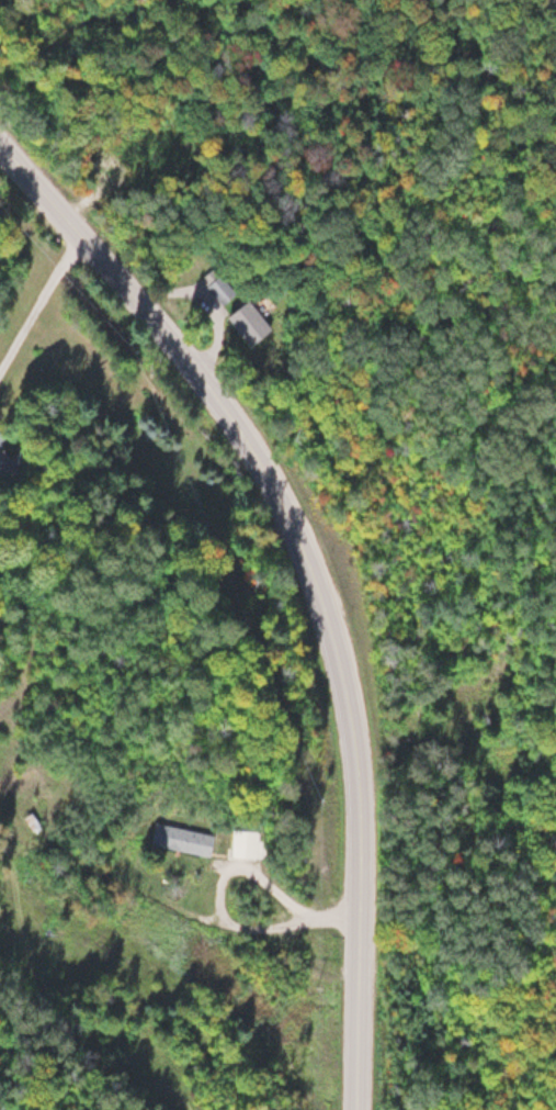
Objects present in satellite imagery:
building: (220, 290)
building: (247, 322)
building: (7, 459)
road: (316, 575)
building: (180, 838)
building: (245, 842)

